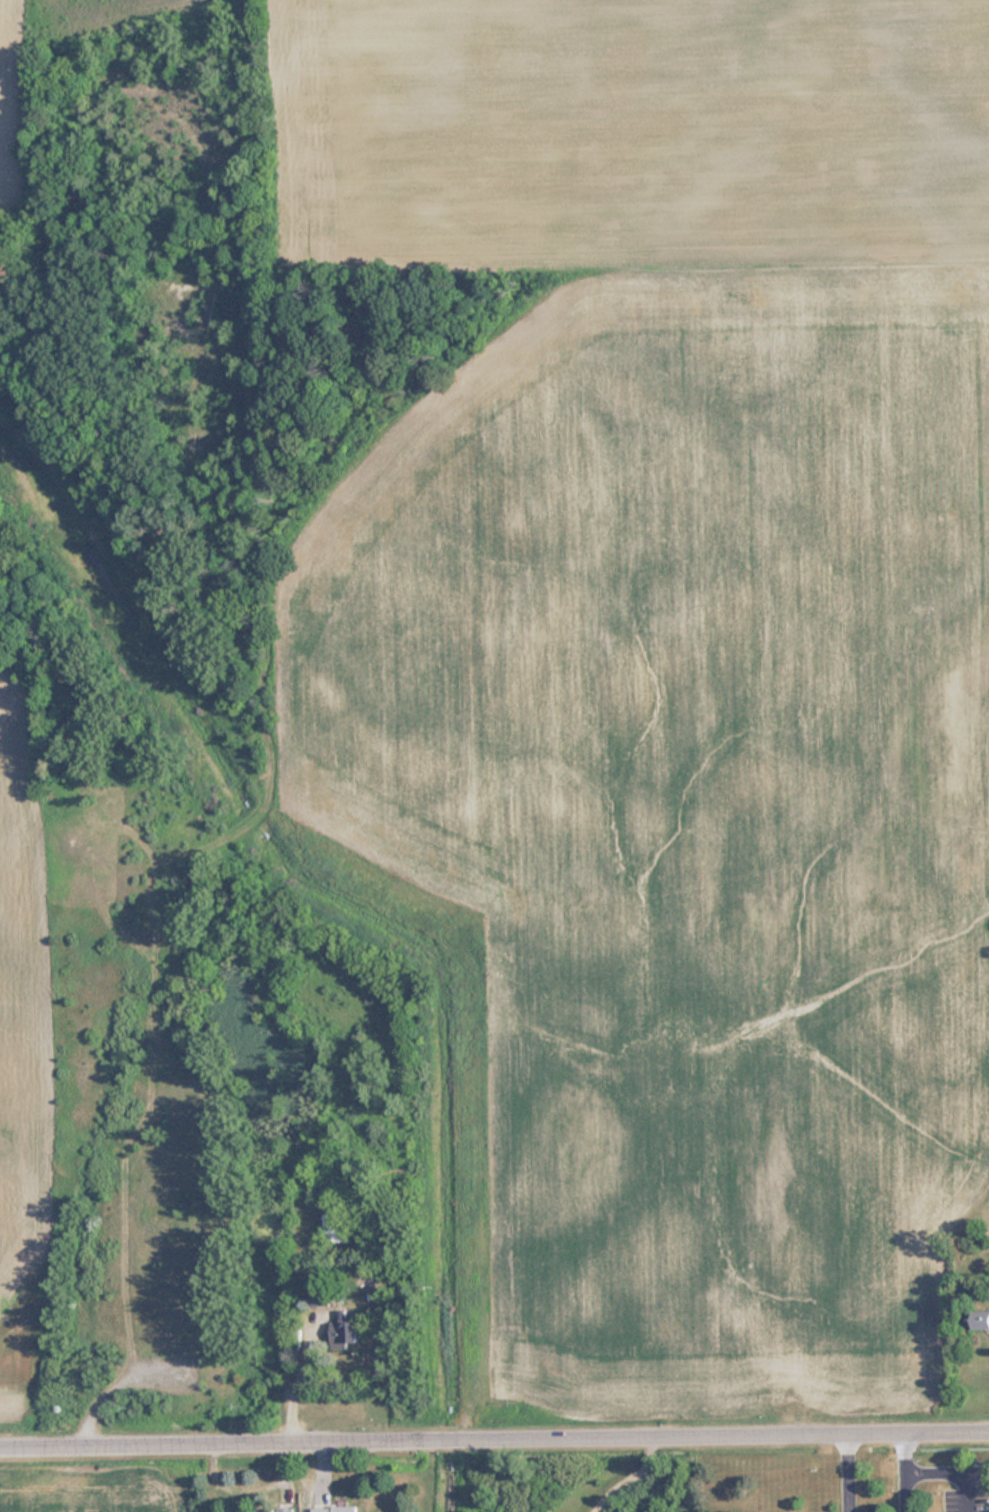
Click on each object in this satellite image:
building: (335, 1228)
building: (319, 1296)
building: (979, 1320)
road: (120, 1386)
road: (494, 1439)
road: (953, 1463)
road: (845, 1473)
road: (903, 1473)
building: (334, 1508)
building: (285, 1510)
building: (265, 1511)

